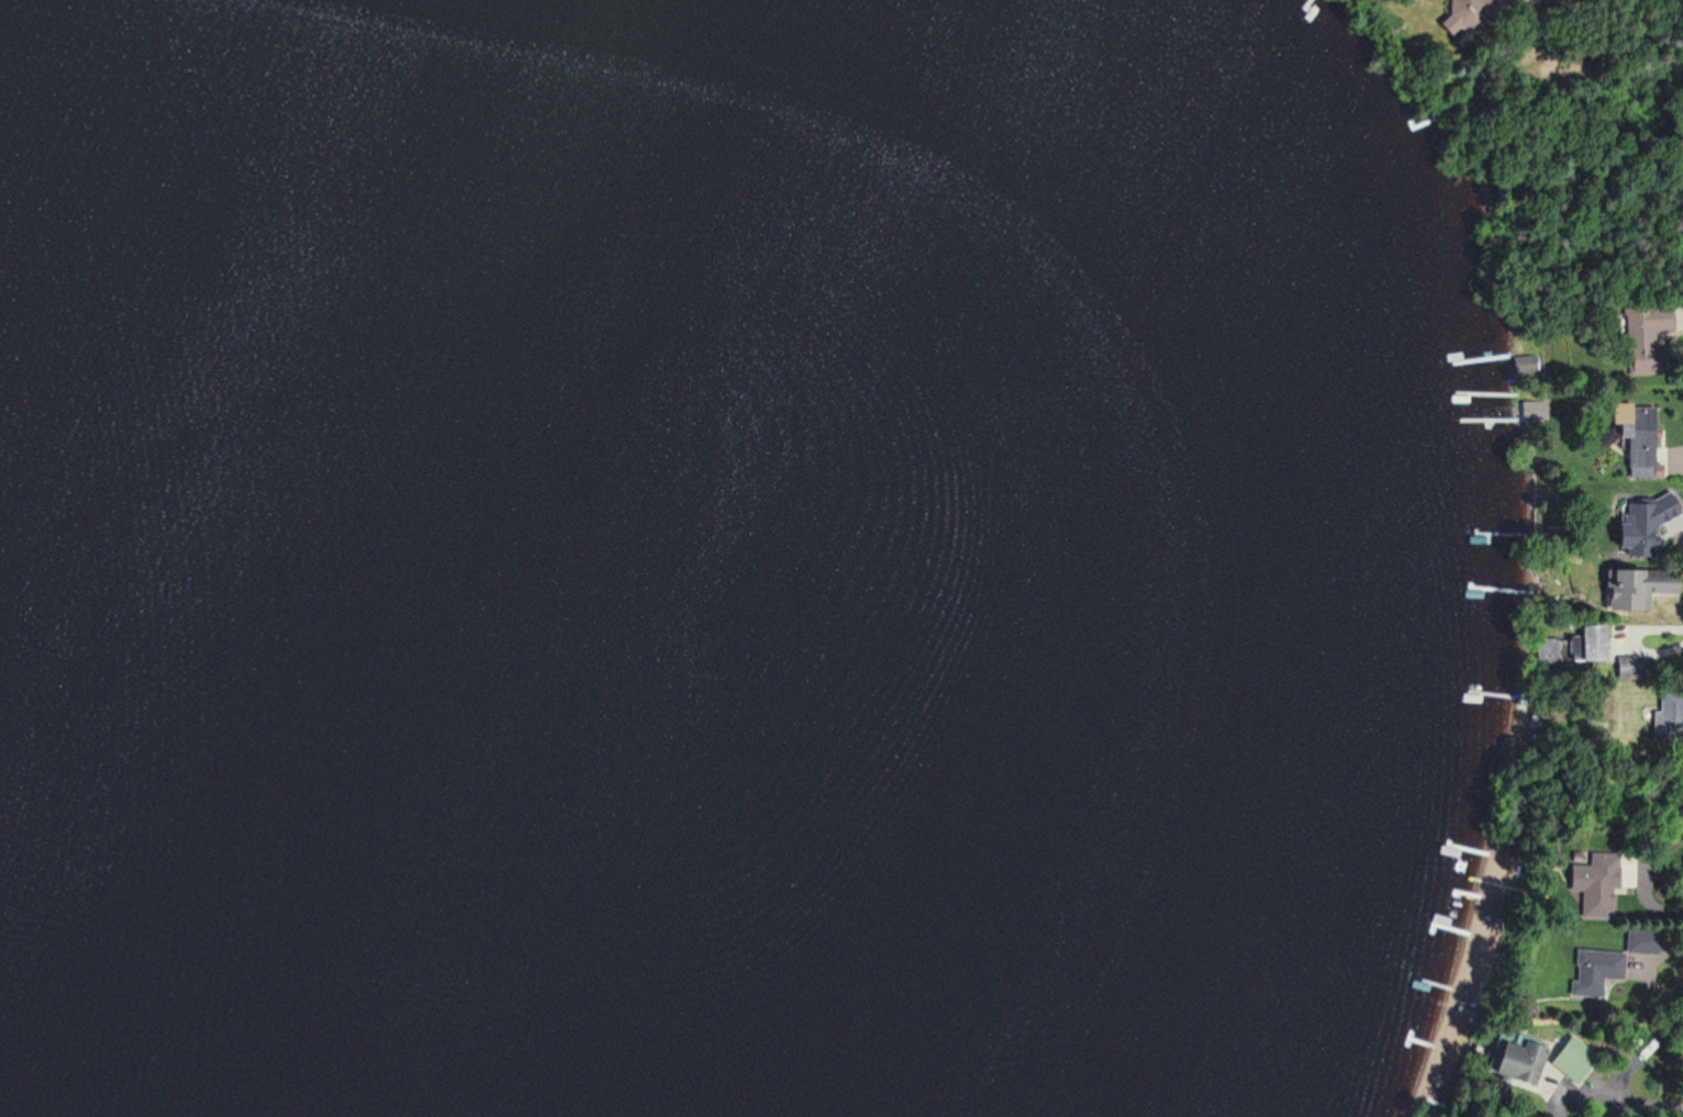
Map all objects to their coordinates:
building: (1636, 338)
building: (1636, 436)
building: (1637, 524)
building: (1635, 587)
road: (1637, 636)
building: (1593, 890)
road: (1658, 900)
road: (1662, 950)
building: (1593, 968)
building: (1567, 1058)
building: (1512, 1060)
road: (1584, 1086)
road: (1657, 1103)
road: (1617, 1108)

